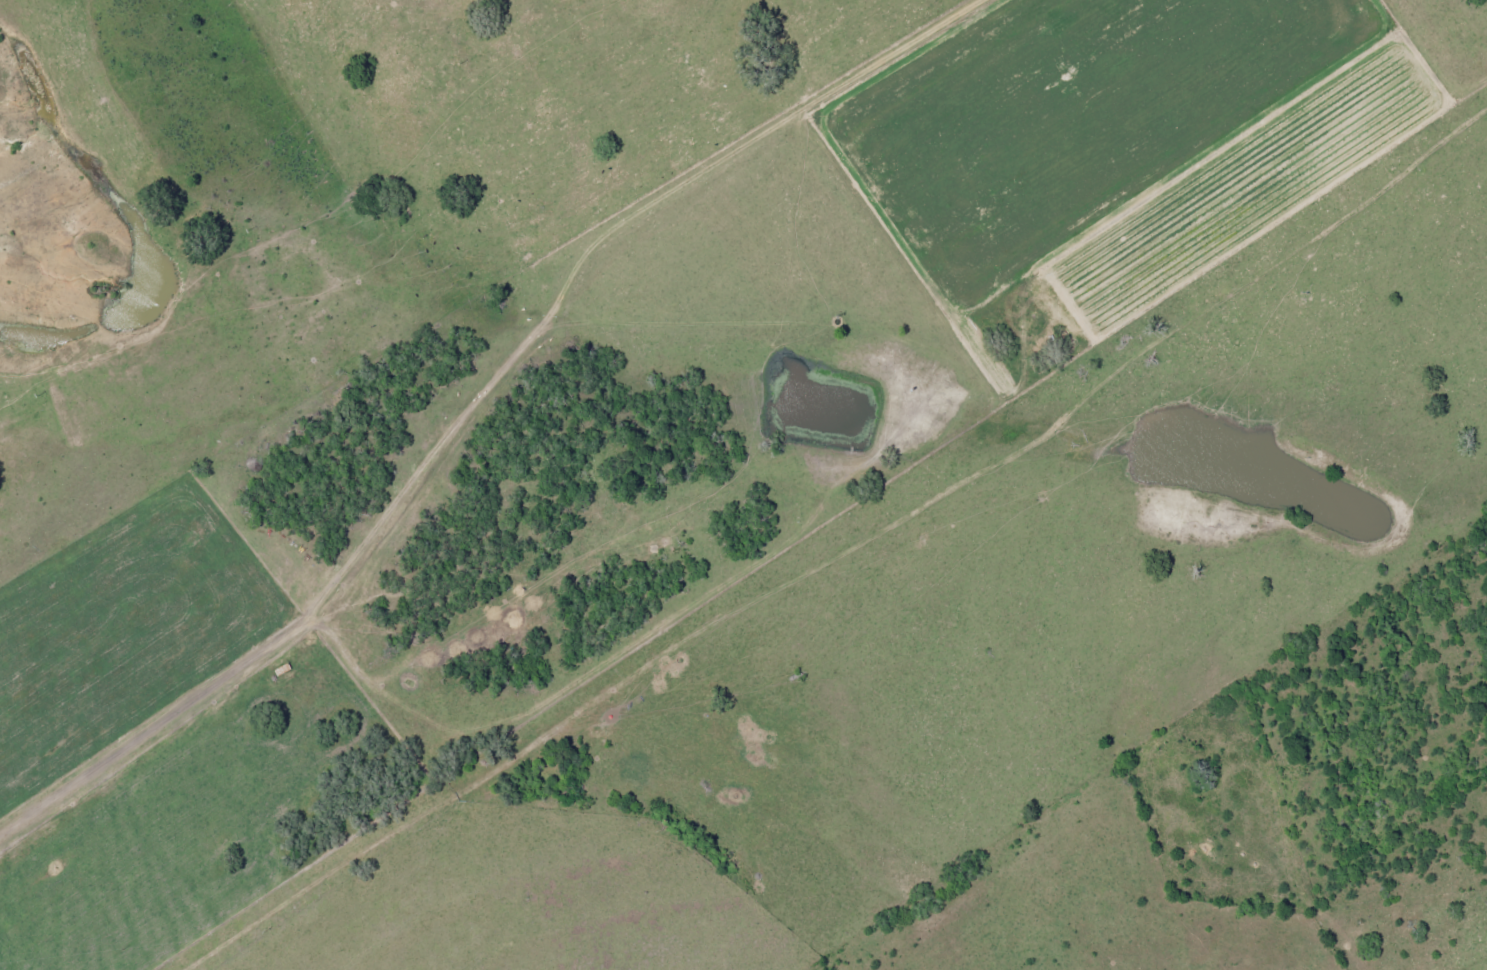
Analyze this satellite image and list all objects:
road: (116, 246)
road: (860, 563)

